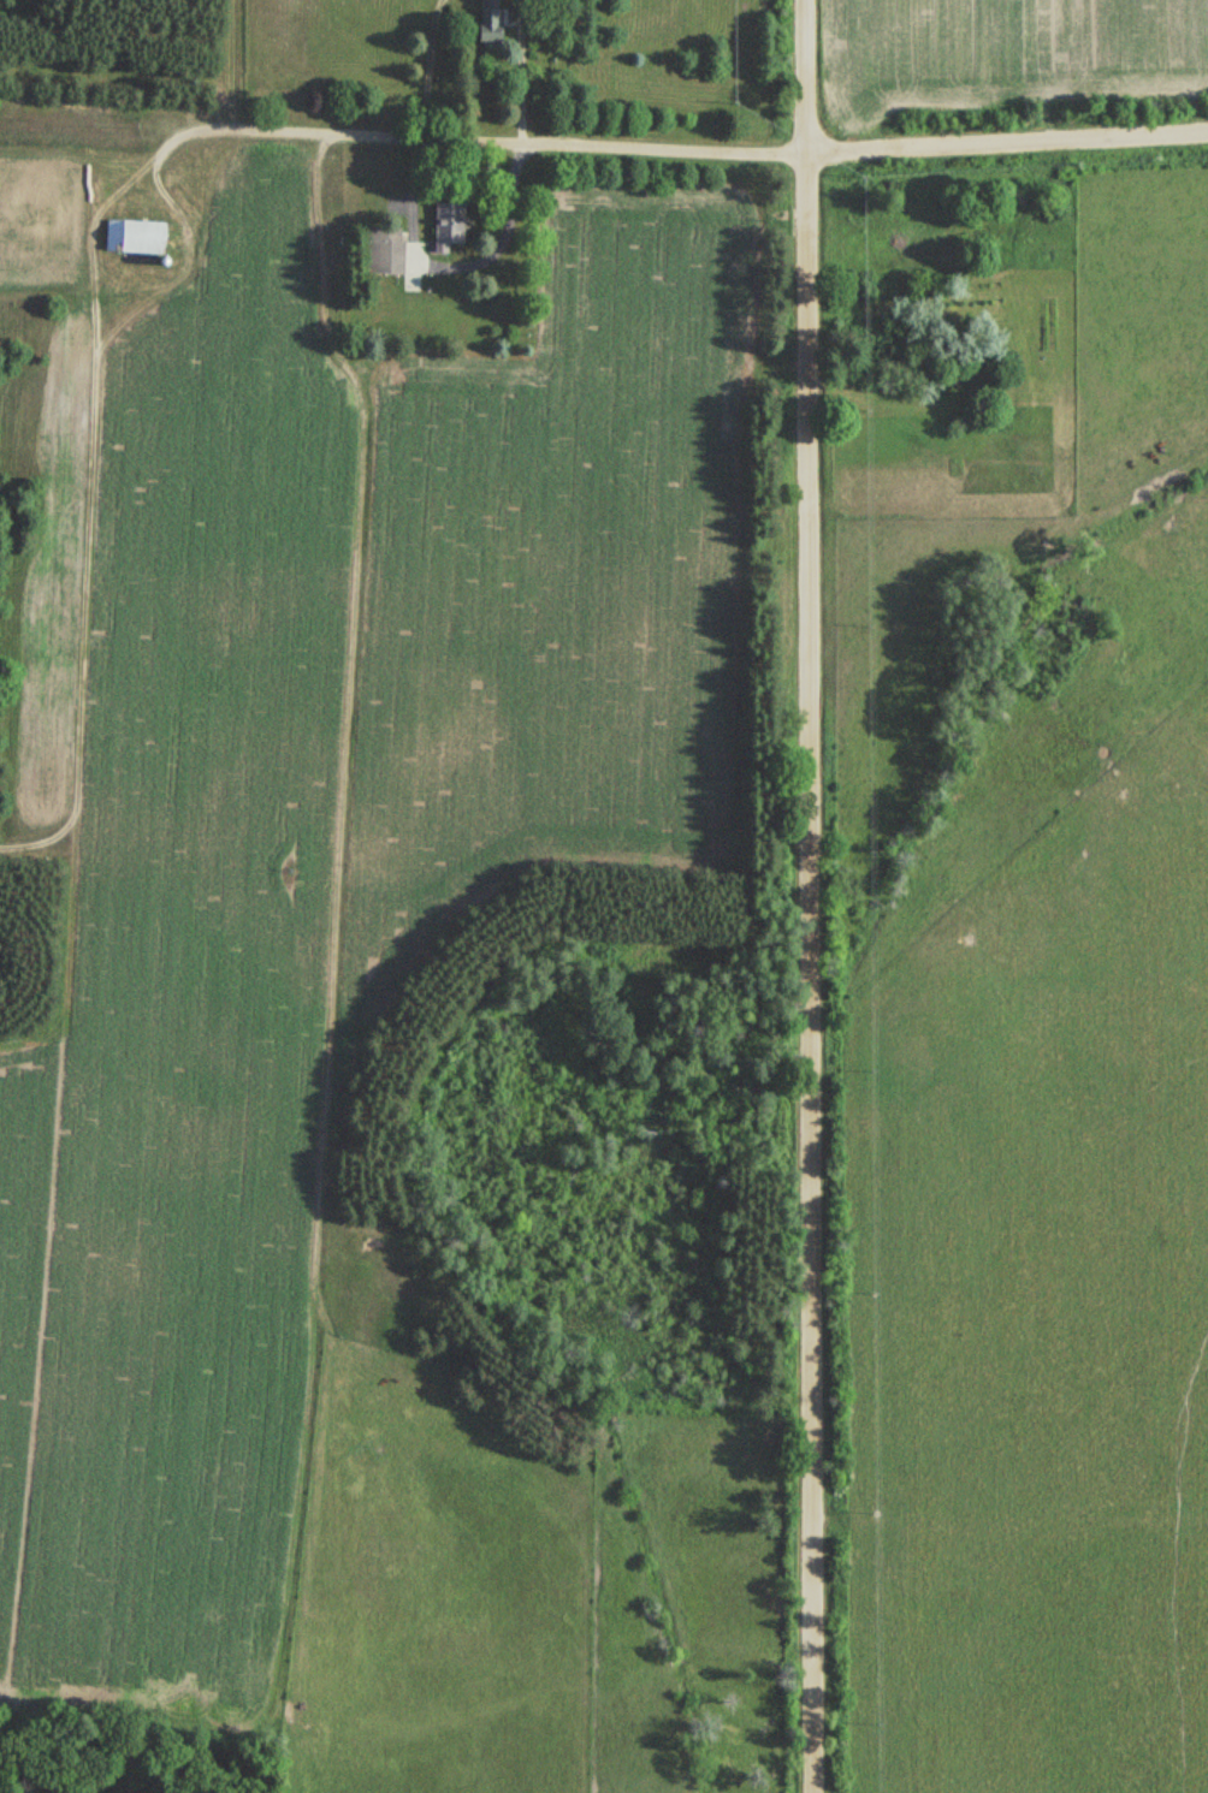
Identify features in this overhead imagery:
building: (488, 19)
road: (604, 166)
building: (132, 238)
building: (384, 250)
road: (776, 896)

